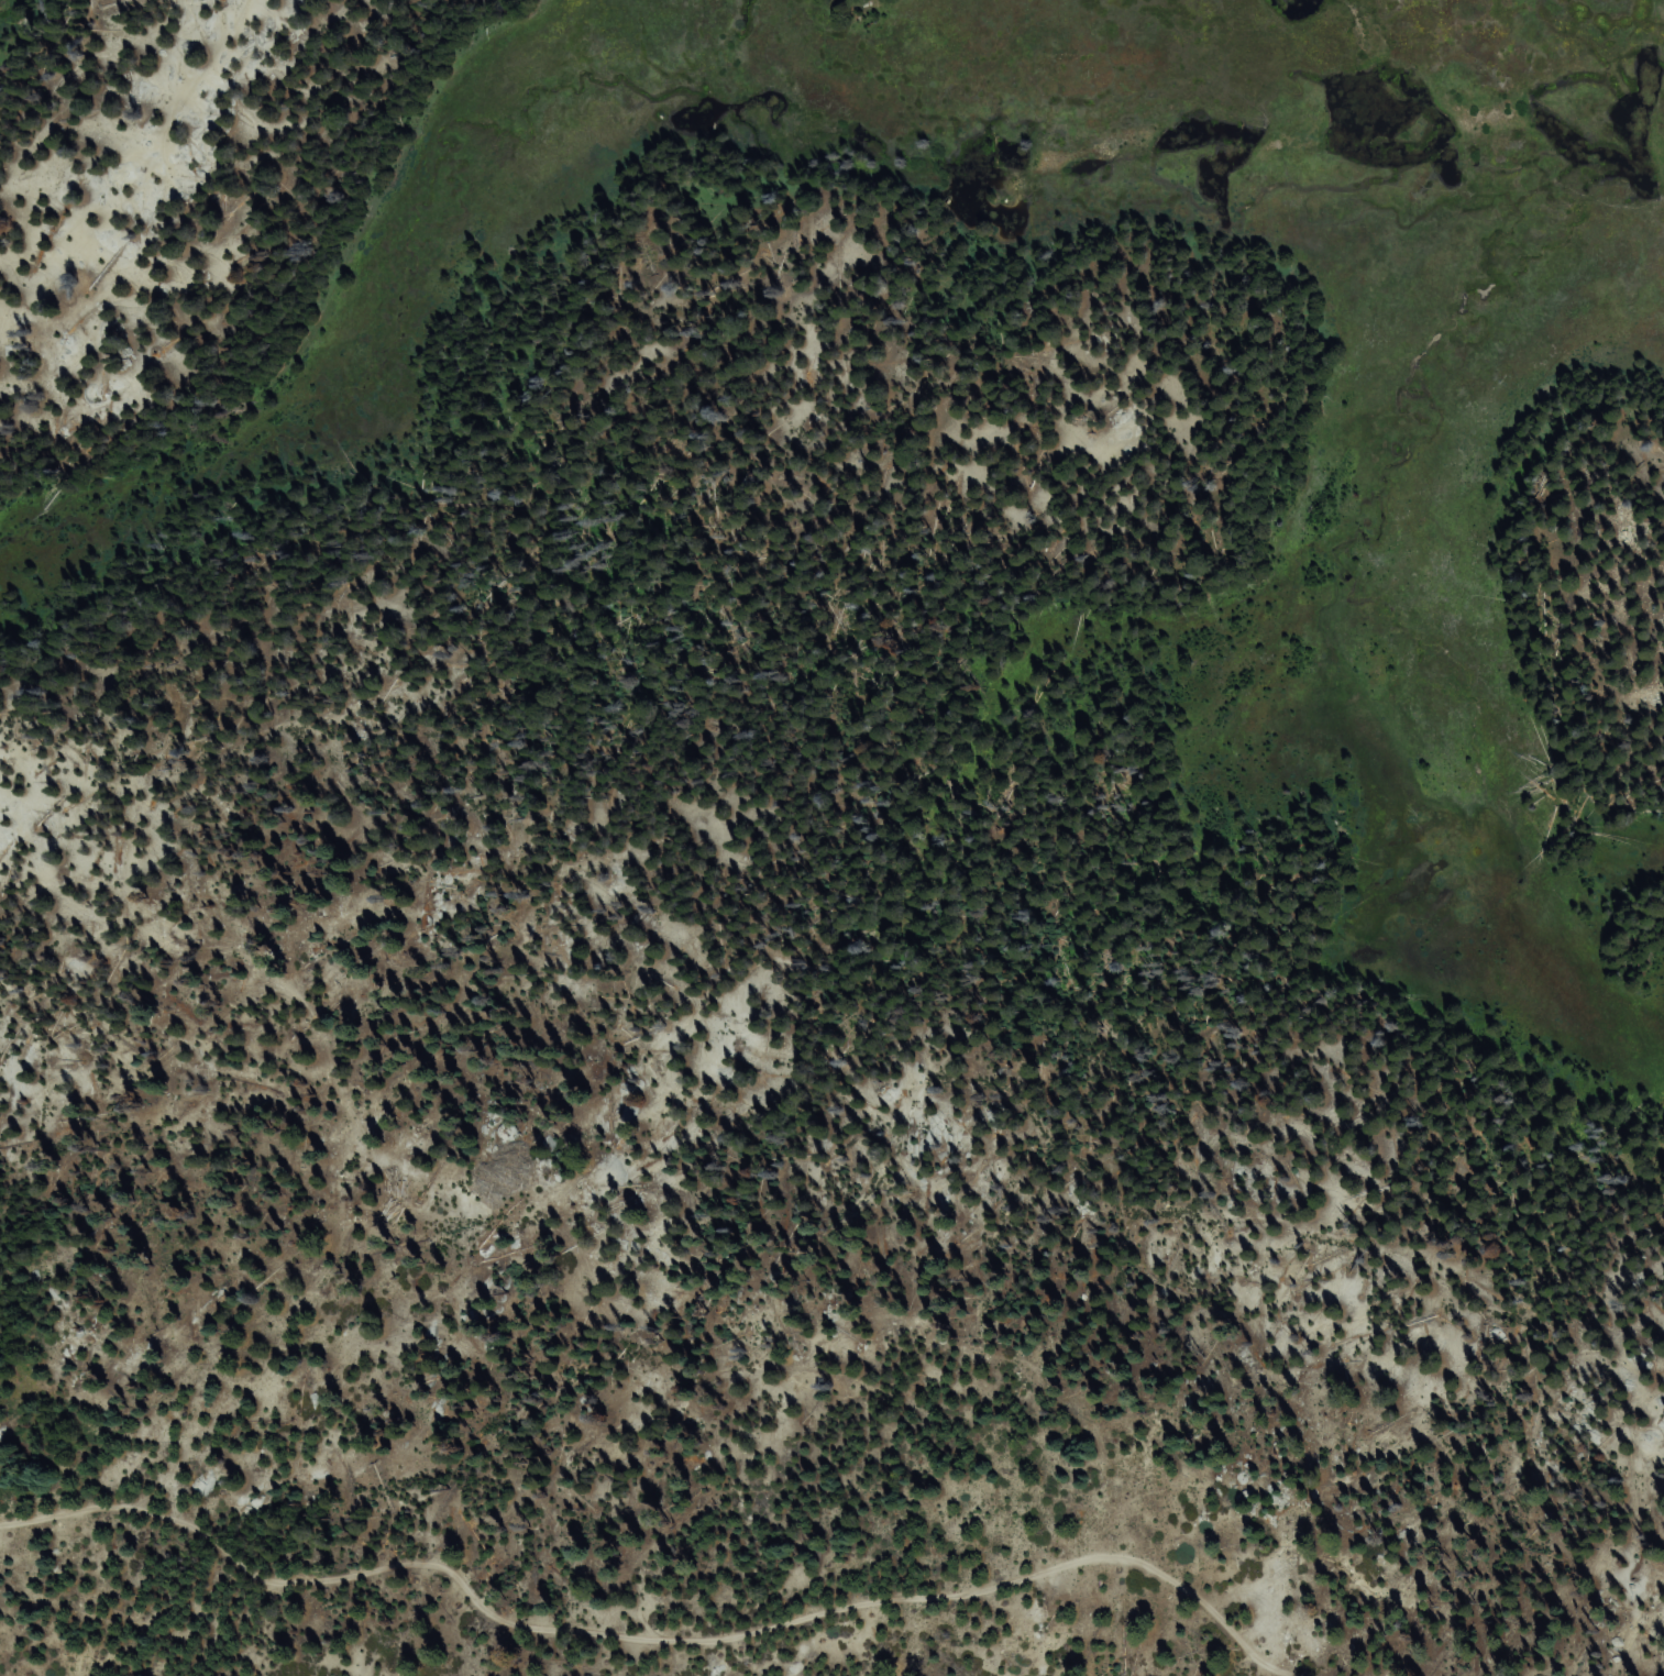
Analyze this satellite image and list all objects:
road: (651, 1631)

